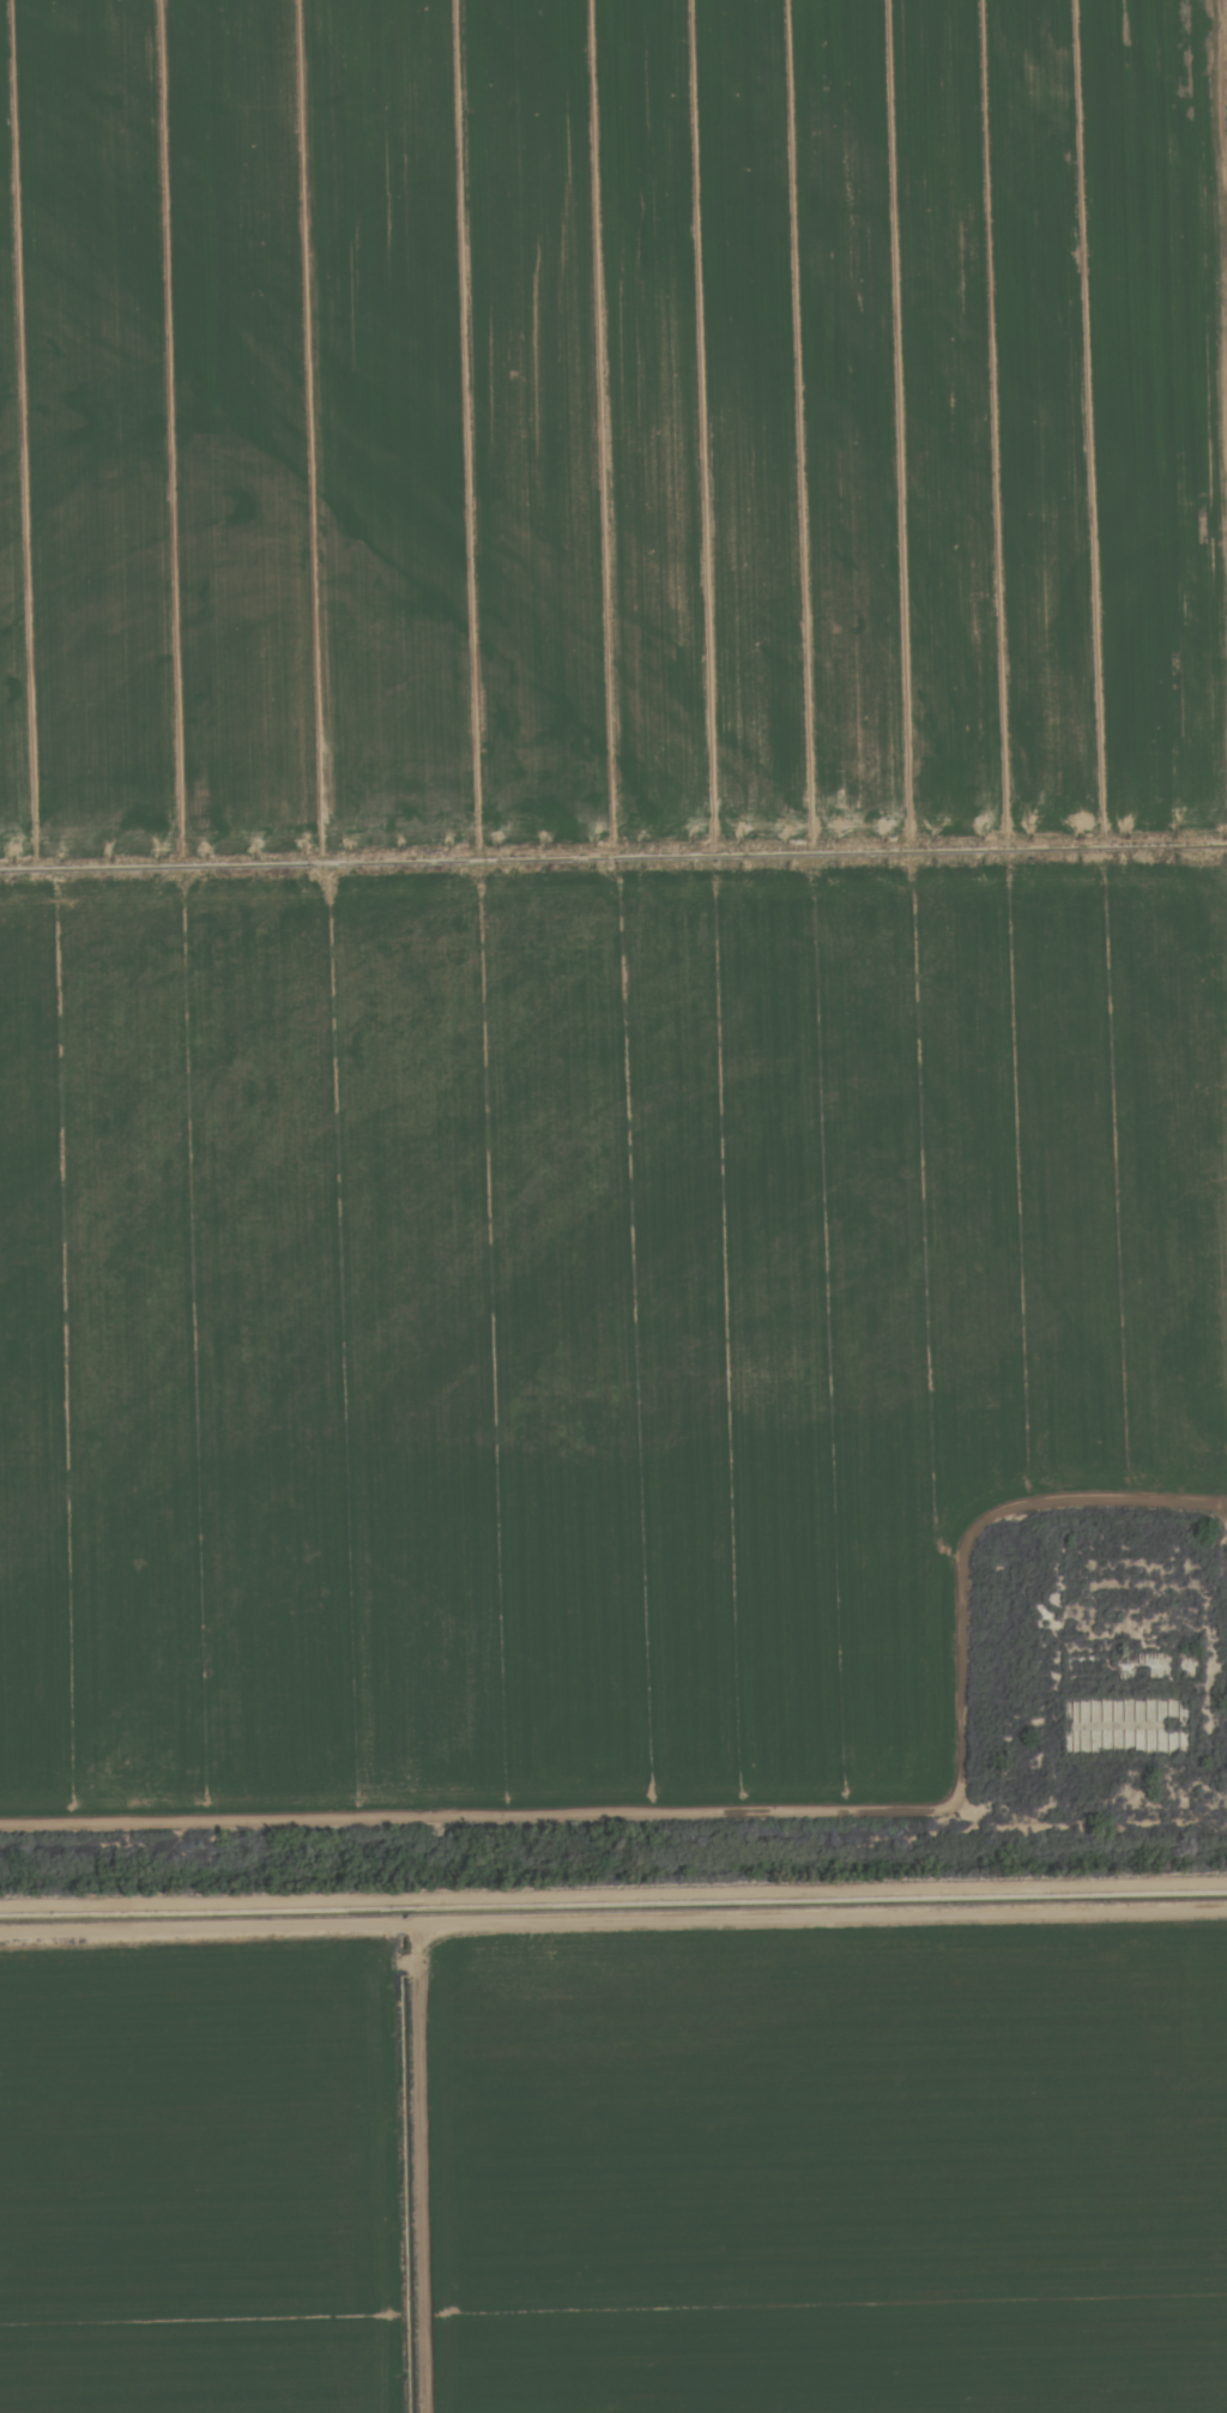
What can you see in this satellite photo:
crop: (580, 1322)

